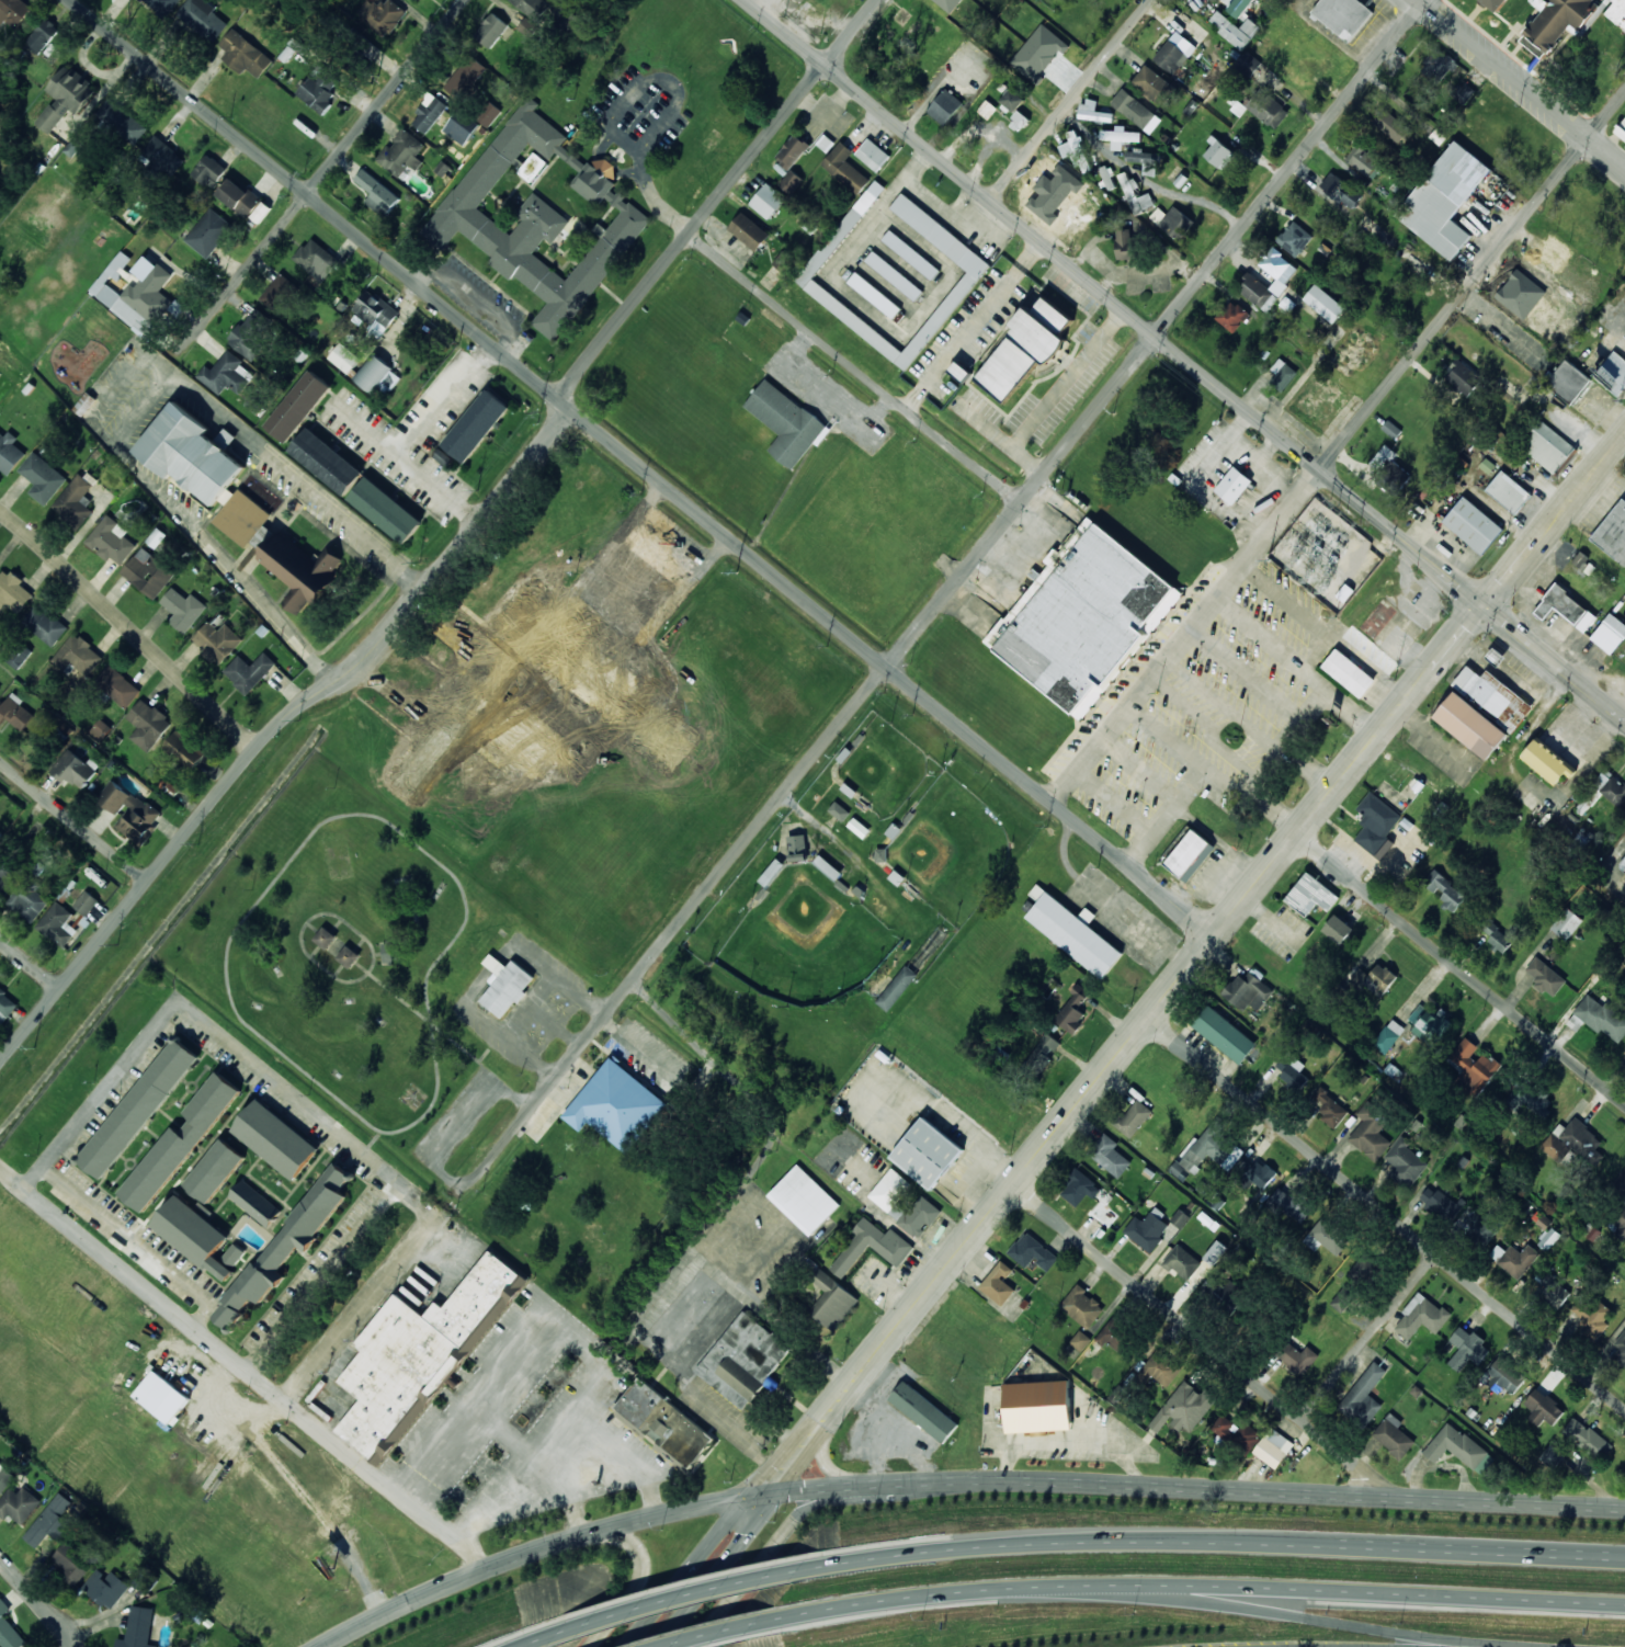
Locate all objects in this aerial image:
building: (419, 0)
building: (1496, 3)
building: (163, 5)
building: (1238, 5)
building: (533, 7)
building: (13, 11)
building: (1617, 12)
building: (382, 14)
building: (1343, 15)
building: (204, 18)
building: (1554, 22)
building: (527, 26)
building: (1235, 29)
building: (491, 30)
building: (42, 35)
building: (1174, 53)
building: (245, 54)
building: (1247, 64)
building: (1437, 66)
building: (466, 77)
road: (1522, 83)
building: (1154, 84)
building: (318, 89)
building: (1462, 91)
building: (66, 96)
building: (1012, 99)
road: (1070, 100)
building: (945, 106)
building: (1268, 107)
building: (1094, 111)
building: (1136, 111)
building: (429, 113)
building: (489, 113)
building: (122, 121)
building: (1019, 121)
building: (1390, 125)
building: (461, 127)
building: (1621, 129)
building: (1121, 137)
building: (1075, 149)
building: (401, 154)
building: (1218, 154)
building: (873, 155)
building: (163, 156)
building: (1144, 160)
building: (792, 161)
building: (1364, 161)
road: (1291, 167)
building: (844, 168)
building: (209, 171)
building: (1106, 175)
road: (319, 178)
building: (1341, 190)
building: (377, 193)
building: (240, 197)
road: (717, 197)
building: (1139, 197)
building: (1444, 200)
building: (768, 201)
building: (261, 212)
building: (542, 215)
building: (1175, 223)
building: (749, 231)
building: (208, 232)
building: (1294, 238)
building: (1125, 243)
building: (910, 254)
building: (316, 257)
building: (785, 262)
building: (1277, 269)
building: (1539, 273)
building: (971, 274)
building: (894, 275)
road: (1471, 282)
building: (1526, 291)
building: (135, 292)
building: (277, 292)
building: (1257, 293)
building: (874, 295)
building: (1325, 303)
building: (375, 313)
building: (1232, 316)
building: (1559, 320)
building: (251, 331)
building: (1025, 348)
building: (343, 357)
road: (1184, 360)
road: (854, 367)
building: (959, 371)
building: (1613, 372)
building: (226, 374)
building: (1282, 374)
building: (376, 375)
building: (1462, 376)
building: (1568, 382)
building: (298, 406)
building: (785, 422)
building: (476, 425)
road: (1624, 432)
building: (1546, 445)
building: (10, 453)
building: (327, 461)
road: (644, 467)
building: (1389, 470)
building: (206, 472)
building: (42, 478)
building: (1234, 485)
building: (1509, 491)
building: (77, 499)
building: (386, 510)
building: (1473, 524)
building: (1613, 533)
building: (111, 539)
power substation: (1325, 554)
building: (300, 569)
building: (148, 572)
building: (13, 591)
building: (1566, 607)
building: (183, 609)
building: (1084, 618)
building: (44, 625)
road: (128, 627)
building: (1610, 633)
building: (217, 641)
building: (19, 656)
building: (78, 656)
building: (1496, 656)
building: (249, 671)
building: (1349, 672)
building: (117, 685)
building: (601, 685)
building: (0, 688)
building: (1493, 696)
building: (14, 712)
building: (148, 724)
building: (1471, 725)
road: (277, 726)
building: (100, 730)
building: (662, 738)
building: (185, 749)
building: (1547, 761)
building: (75, 770)
building: (1605, 788)
building: (839, 810)
building: (129, 811)
road: (73, 820)
building: (1376, 822)
building: (859, 827)
building: (797, 848)
building: (1385, 850)
road: (293, 853)
building: (1190, 855)
building: (828, 867)
road: (723, 870)
building: (772, 872)
building: (5, 875)
building: (1444, 889)
building: (1310, 895)
building: (29, 899)
building: (86, 901)
building: (1566, 923)
building: (57, 924)
building: (1338, 929)
building: (1072, 931)
building: (1497, 935)
building: (325, 938)
building: (387, 953)
building: (349, 956)
road: (30, 963)
road: (1462, 968)
building: (1545, 976)
building: (1372, 978)
building: (505, 985)
building: (897, 987)
building: (1248, 990)
building: (5, 1006)
building: (1072, 1011)
building: (1599, 1018)
building: (1429, 1023)
road: (221, 1033)
building: (1224, 1033)
building: (1388, 1036)
road: (1133, 1038)
building: (1043, 1052)
building: (1624, 1055)
building: (1475, 1066)
building: (1292, 1071)
building: (1529, 1099)
building: (616, 1105)
building: (139, 1108)
building: (1330, 1108)
building: (1133, 1117)
building: (1371, 1132)
building: (275, 1139)
building: (1571, 1140)
building: (179, 1144)
building: (1209, 1151)
building: (928, 1152)
building: (1109, 1155)
building: (1406, 1163)
building: (215, 1170)
building: (1258, 1173)
building: (1620, 1183)
building: (890, 1189)
building: (1087, 1192)
building: (804, 1200)
building: (1440, 1202)
building: (254, 1203)
building: (1292, 1203)
road: (1386, 1214)
building: (916, 1216)
building: (1179, 1217)
building: (1617, 1222)
building: (1478, 1225)
building: (1147, 1229)
building: (297, 1230)
building: (194, 1235)
building: (1328, 1236)
building: (1548, 1238)
building: (872, 1247)
road: (146, 1251)
building: (1032, 1251)
building: (1215, 1251)
building: (234, 1254)
building: (1515, 1259)
building: (1182, 1262)
road: (330, 1283)
building: (998, 1283)
building: (1553, 1288)
building: (830, 1298)
building: (1343, 1298)
building: (1082, 1306)
building: (1421, 1316)
building: (1116, 1334)
road: (1367, 1336)
road: (1205, 1341)
building: (1467, 1348)
building: (1621, 1349)
building: (418, 1356)
building: (1298, 1358)
building: (743, 1360)
building: (1161, 1367)
road: (243, 1368)
building: (1503, 1375)
building: (1364, 1395)
building: (162, 1396)
building: (1037, 1406)
building: (1184, 1408)
building: (1543, 1408)
building: (923, 1411)
building: (664, 1422)
building: (1237, 1433)
building: (1393, 1435)
building: (1587, 1438)
building: (1273, 1447)
building: (1458, 1447)
building: (1555, 1455)
building: (4, 1478)
road: (963, 1480)
building: (19, 1503)
building: (50, 1521)
road: (786, 1538)
road: (1220, 1542)
building: (71, 1563)
building: (106, 1587)
road: (633, 1588)
road: (1202, 1591)
road: (667, 1600)
road: (38, 1606)
road: (1288, 1615)
building: (138, 1627)
building: (9, 1629)
road: (729, 1632)

